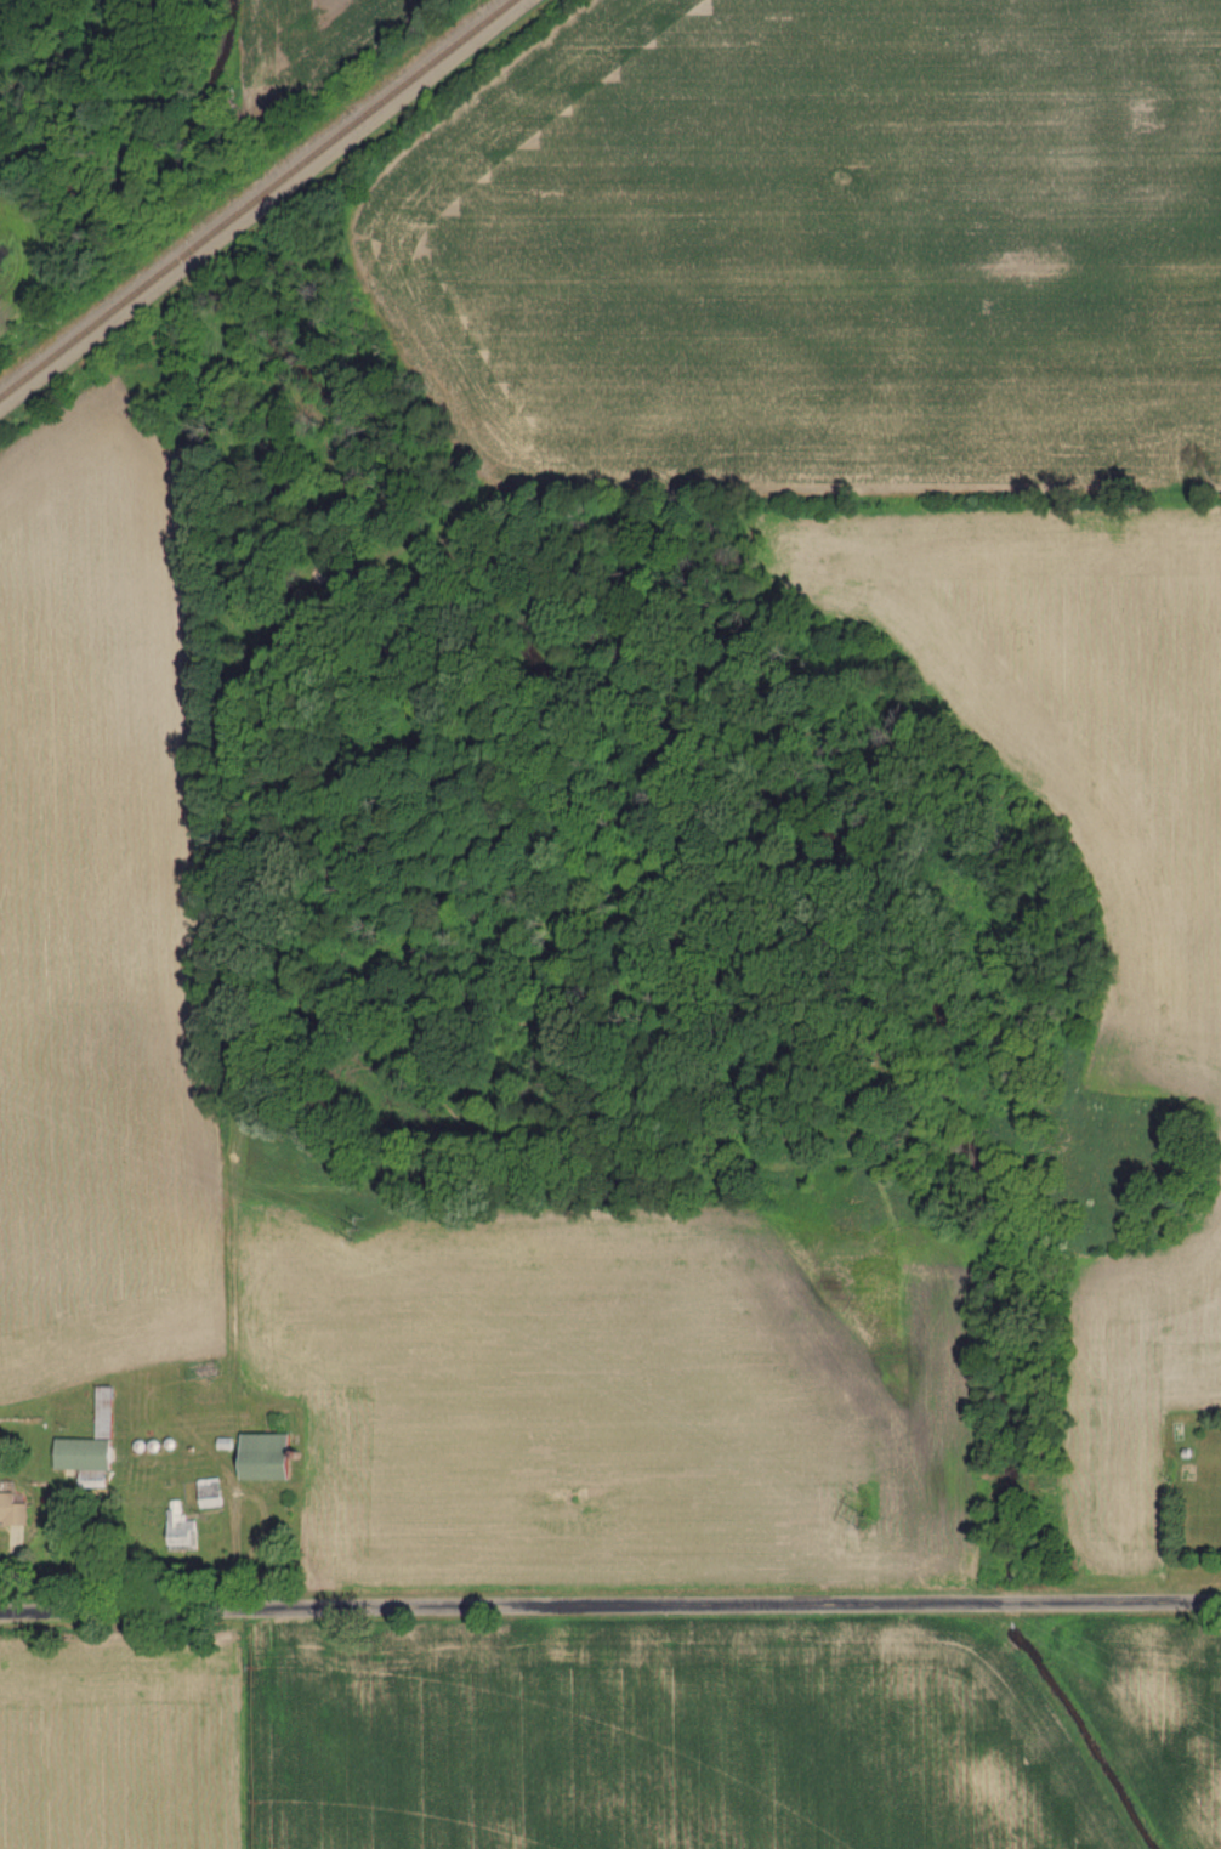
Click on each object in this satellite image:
railway: (261, 200)
building: (92, 1446)
building: (271, 1458)
building: (212, 1494)
building: (13, 1511)
building: (183, 1532)
road: (610, 1605)
crop: (539, 1742)

